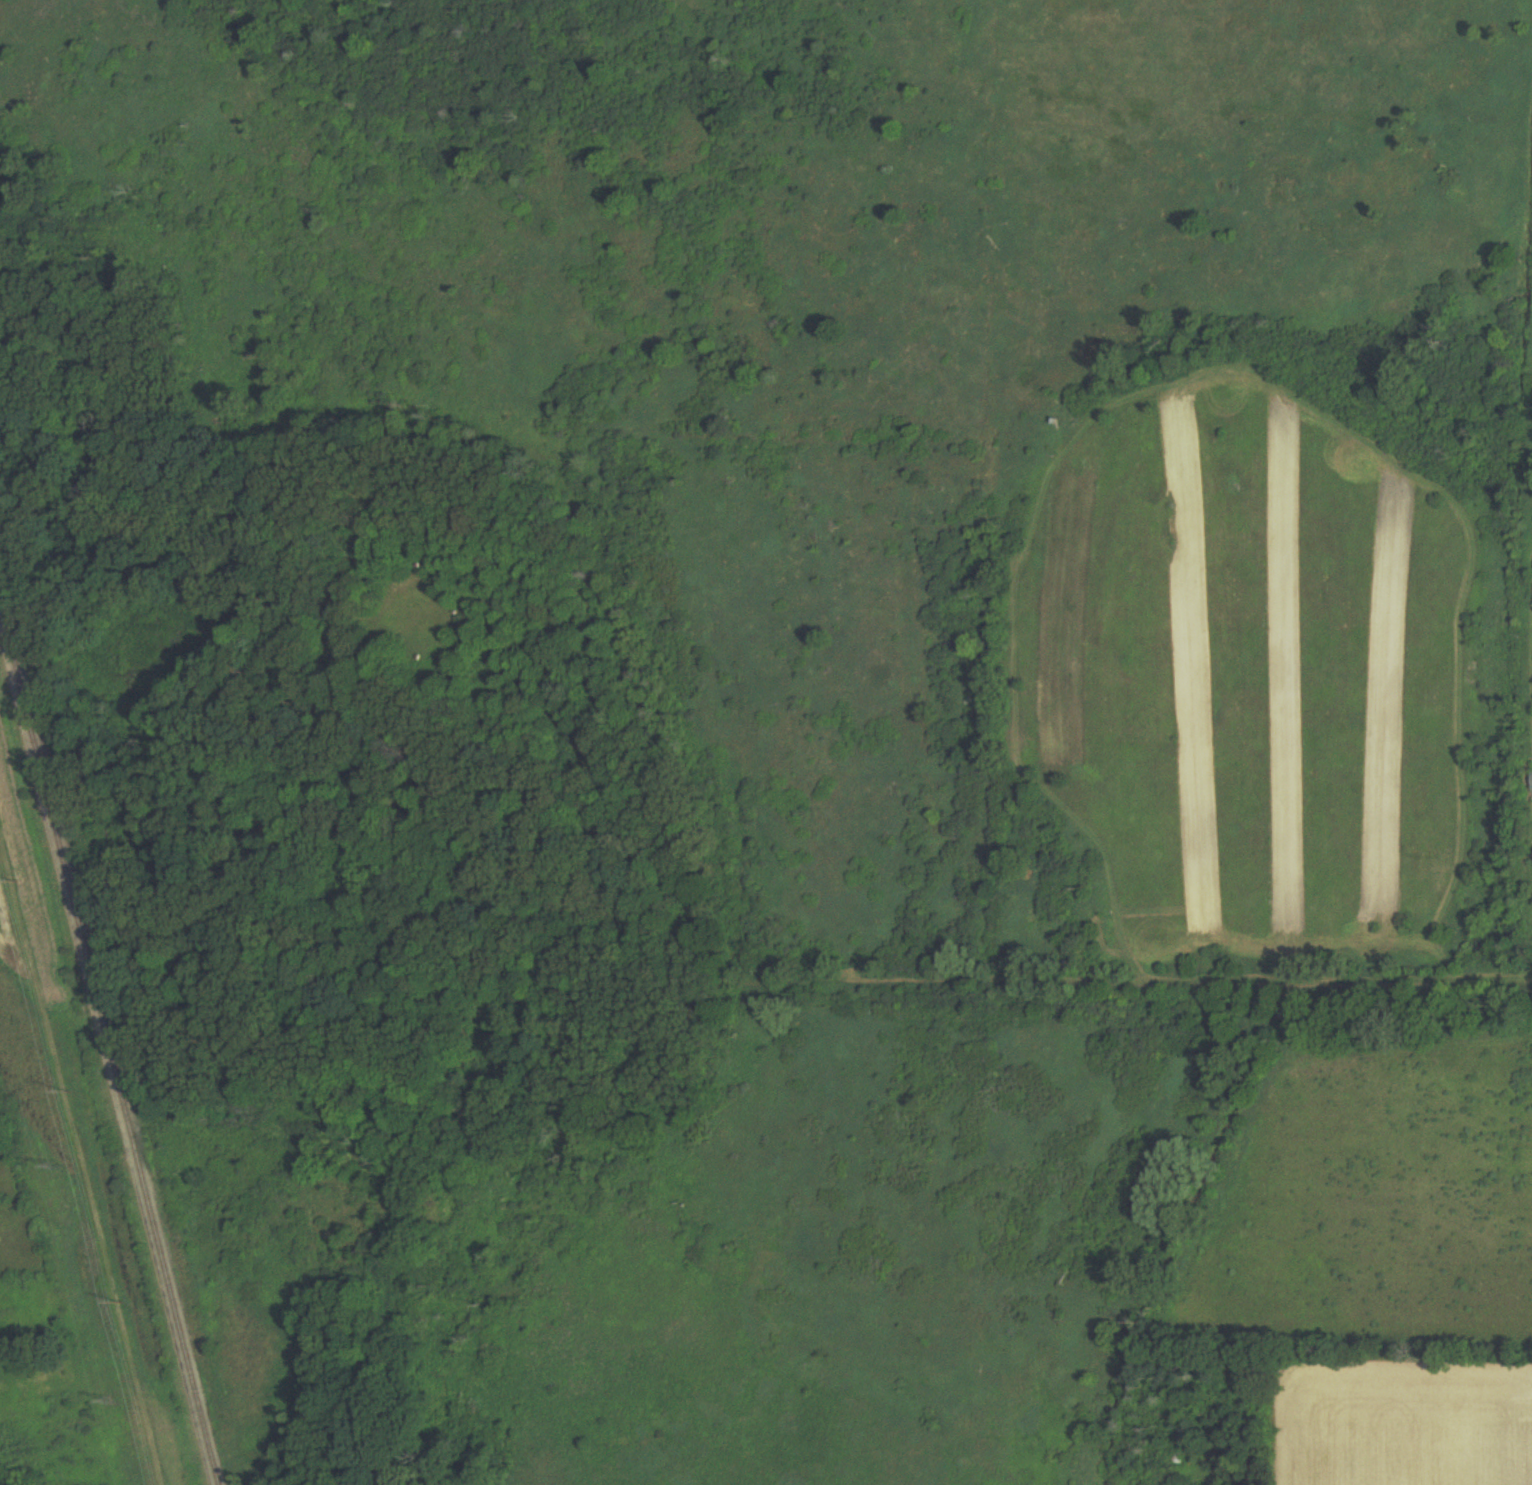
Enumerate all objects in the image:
building: (1531, 782)
railway: (110, 1044)
power tower: (57, 1169)
power tower: (115, 1403)
building: (1179, 1459)

